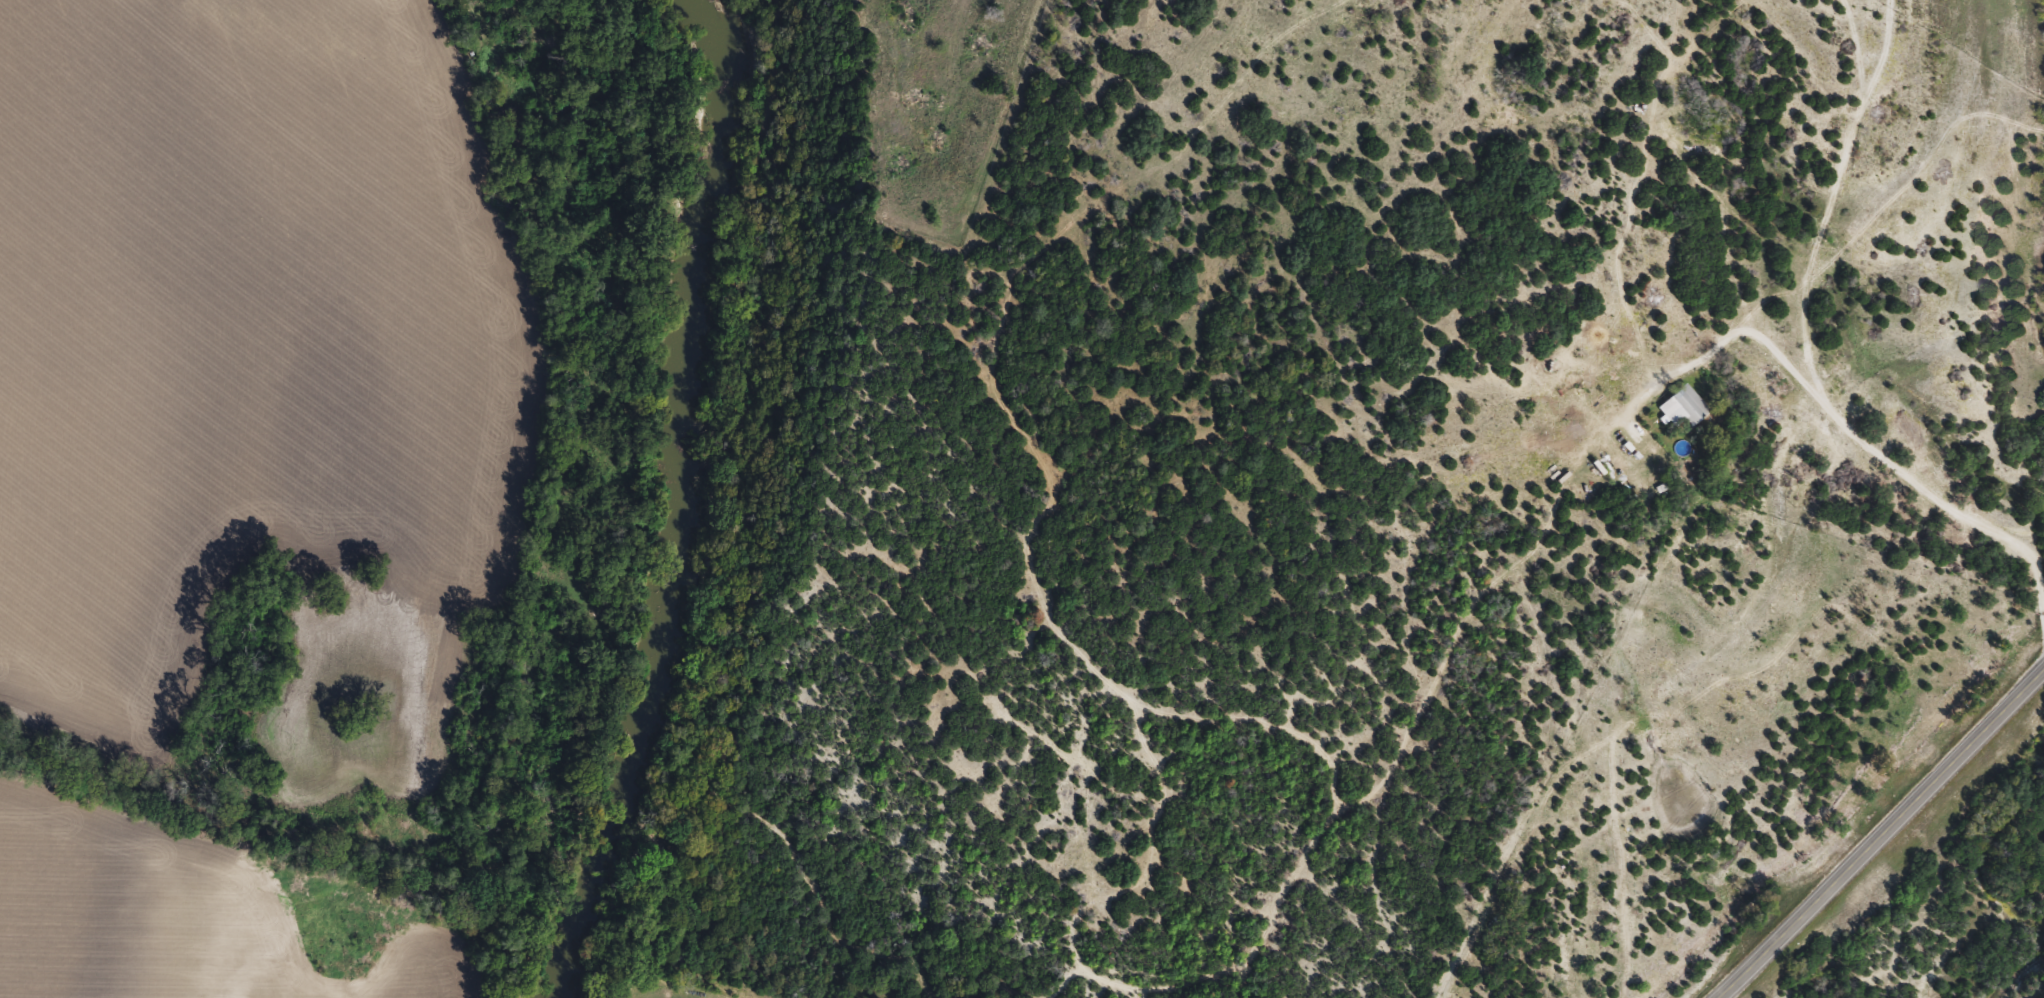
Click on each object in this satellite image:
building: (1685, 409)
river: (684, 502)
road: (1467, 816)
road: (1883, 834)

